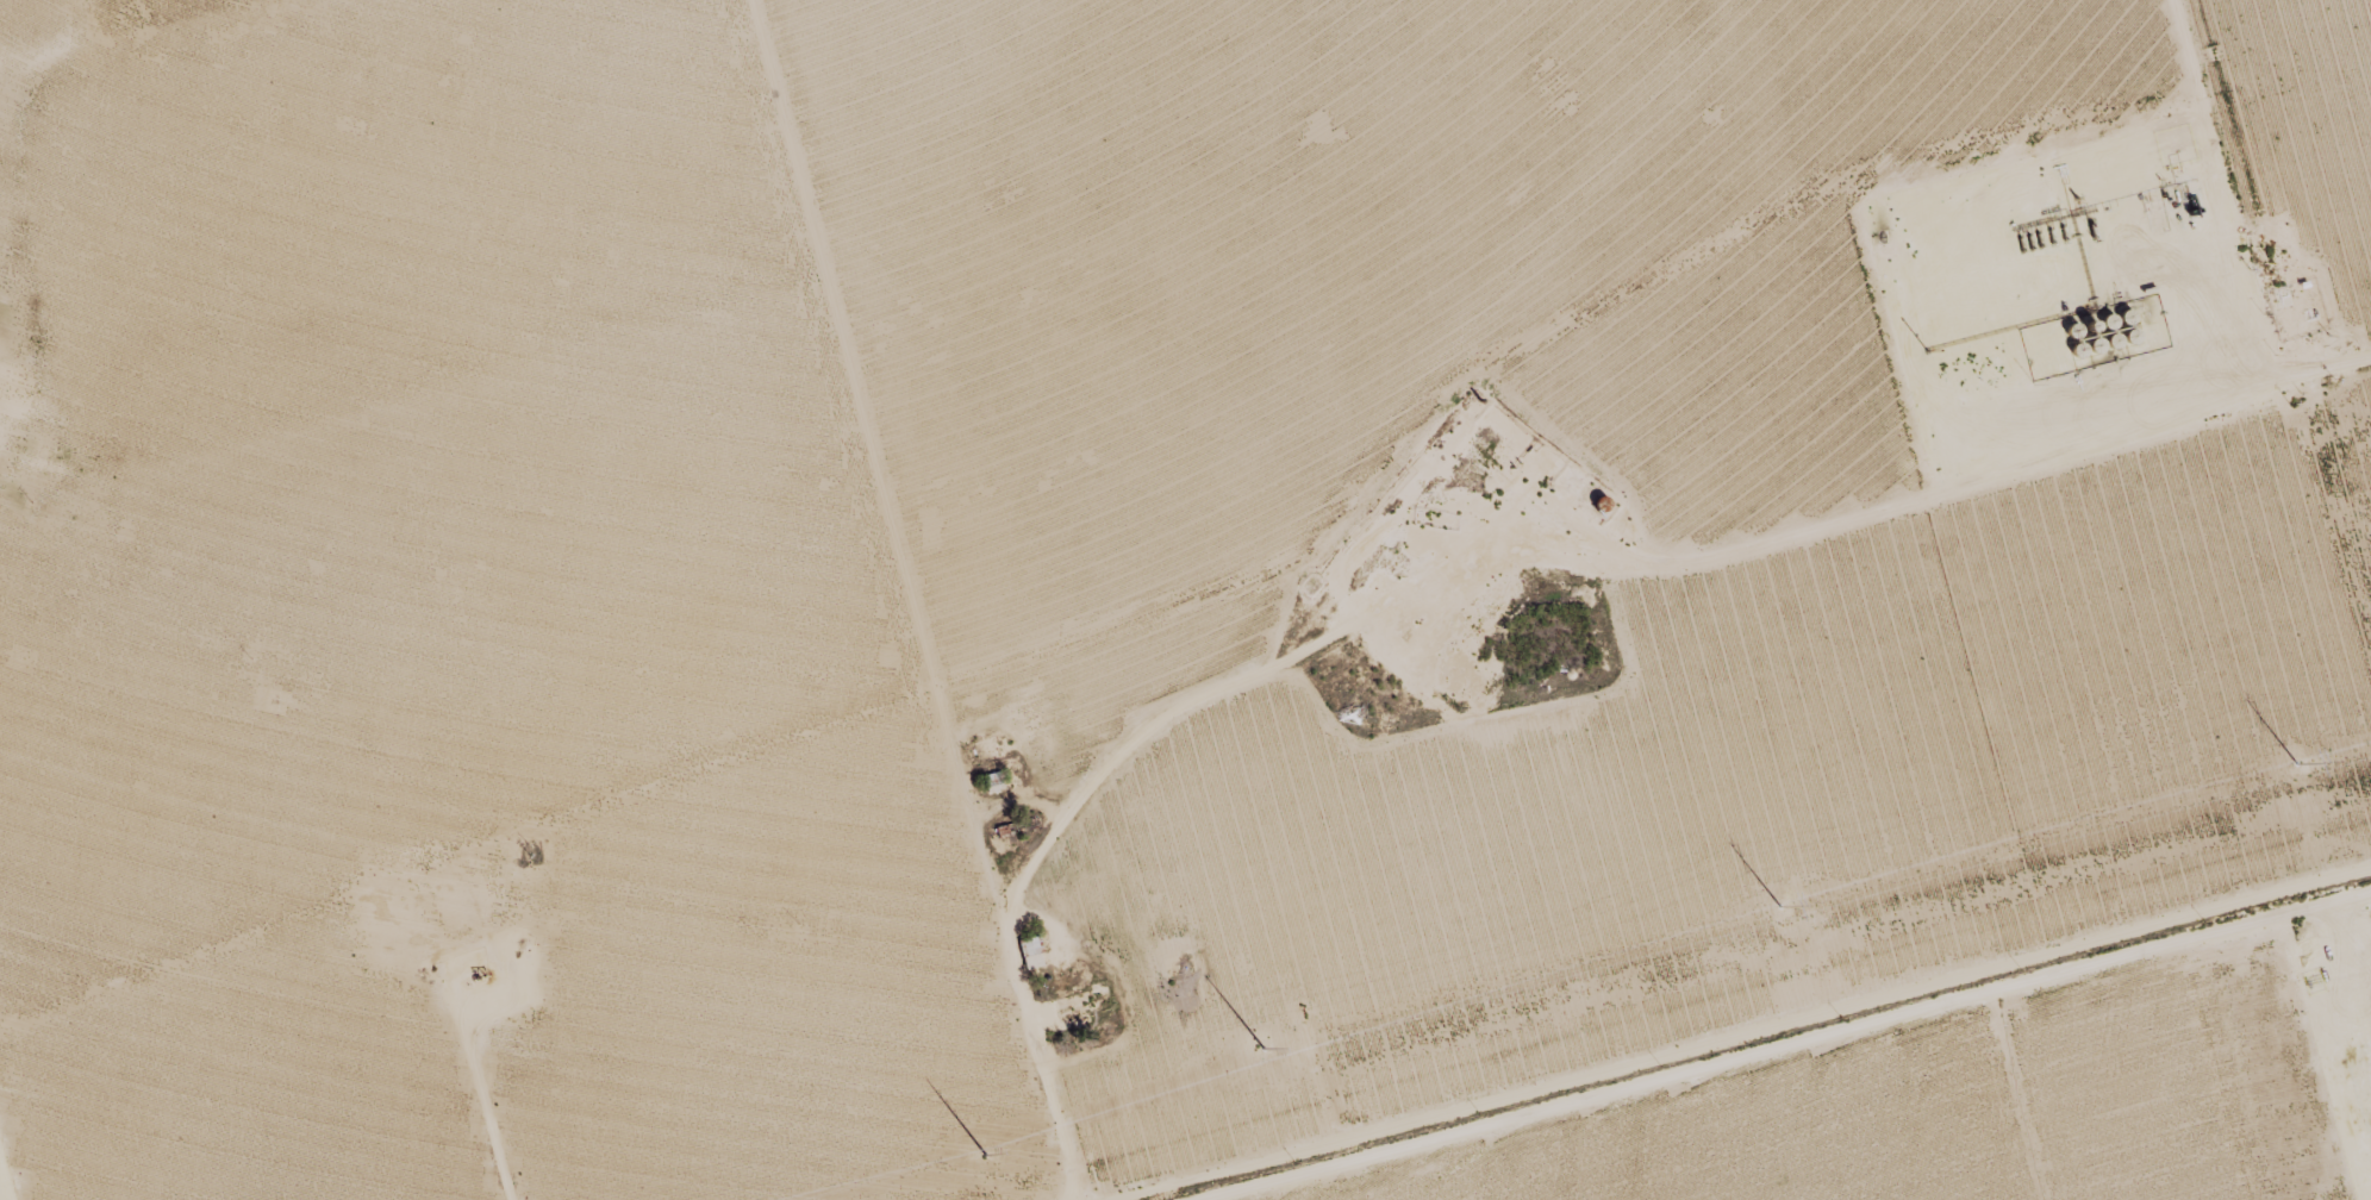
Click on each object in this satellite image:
road: (99, 96)
road: (2146, 494)
road: (906, 600)
power tower: (2297, 762)
power tower: (1780, 904)
building: (1029, 951)
power tower: (1264, 1045)
power tower: (986, 1154)

